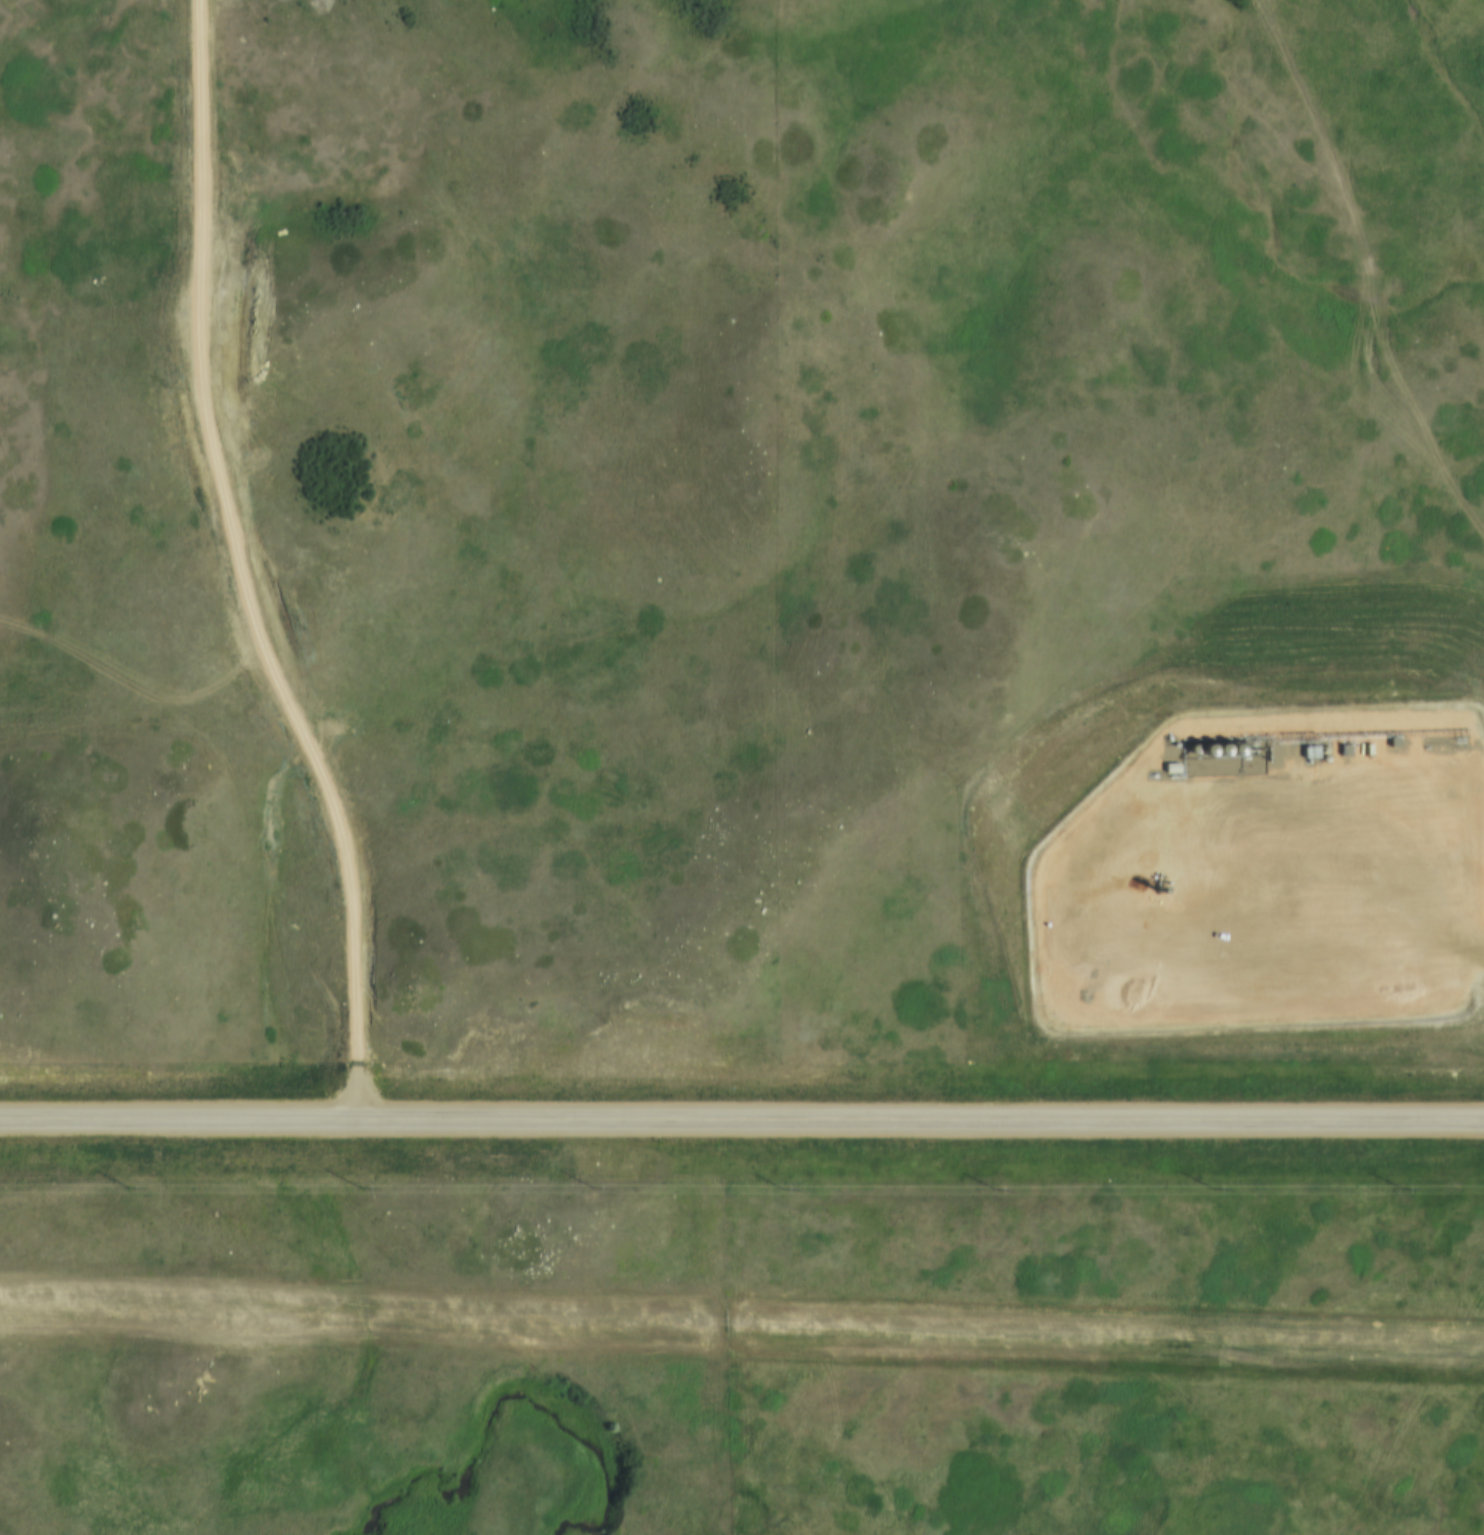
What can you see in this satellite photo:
road: (1366, 276)
road: (247, 568)
road: (741, 1120)
road: (1406, 1410)

